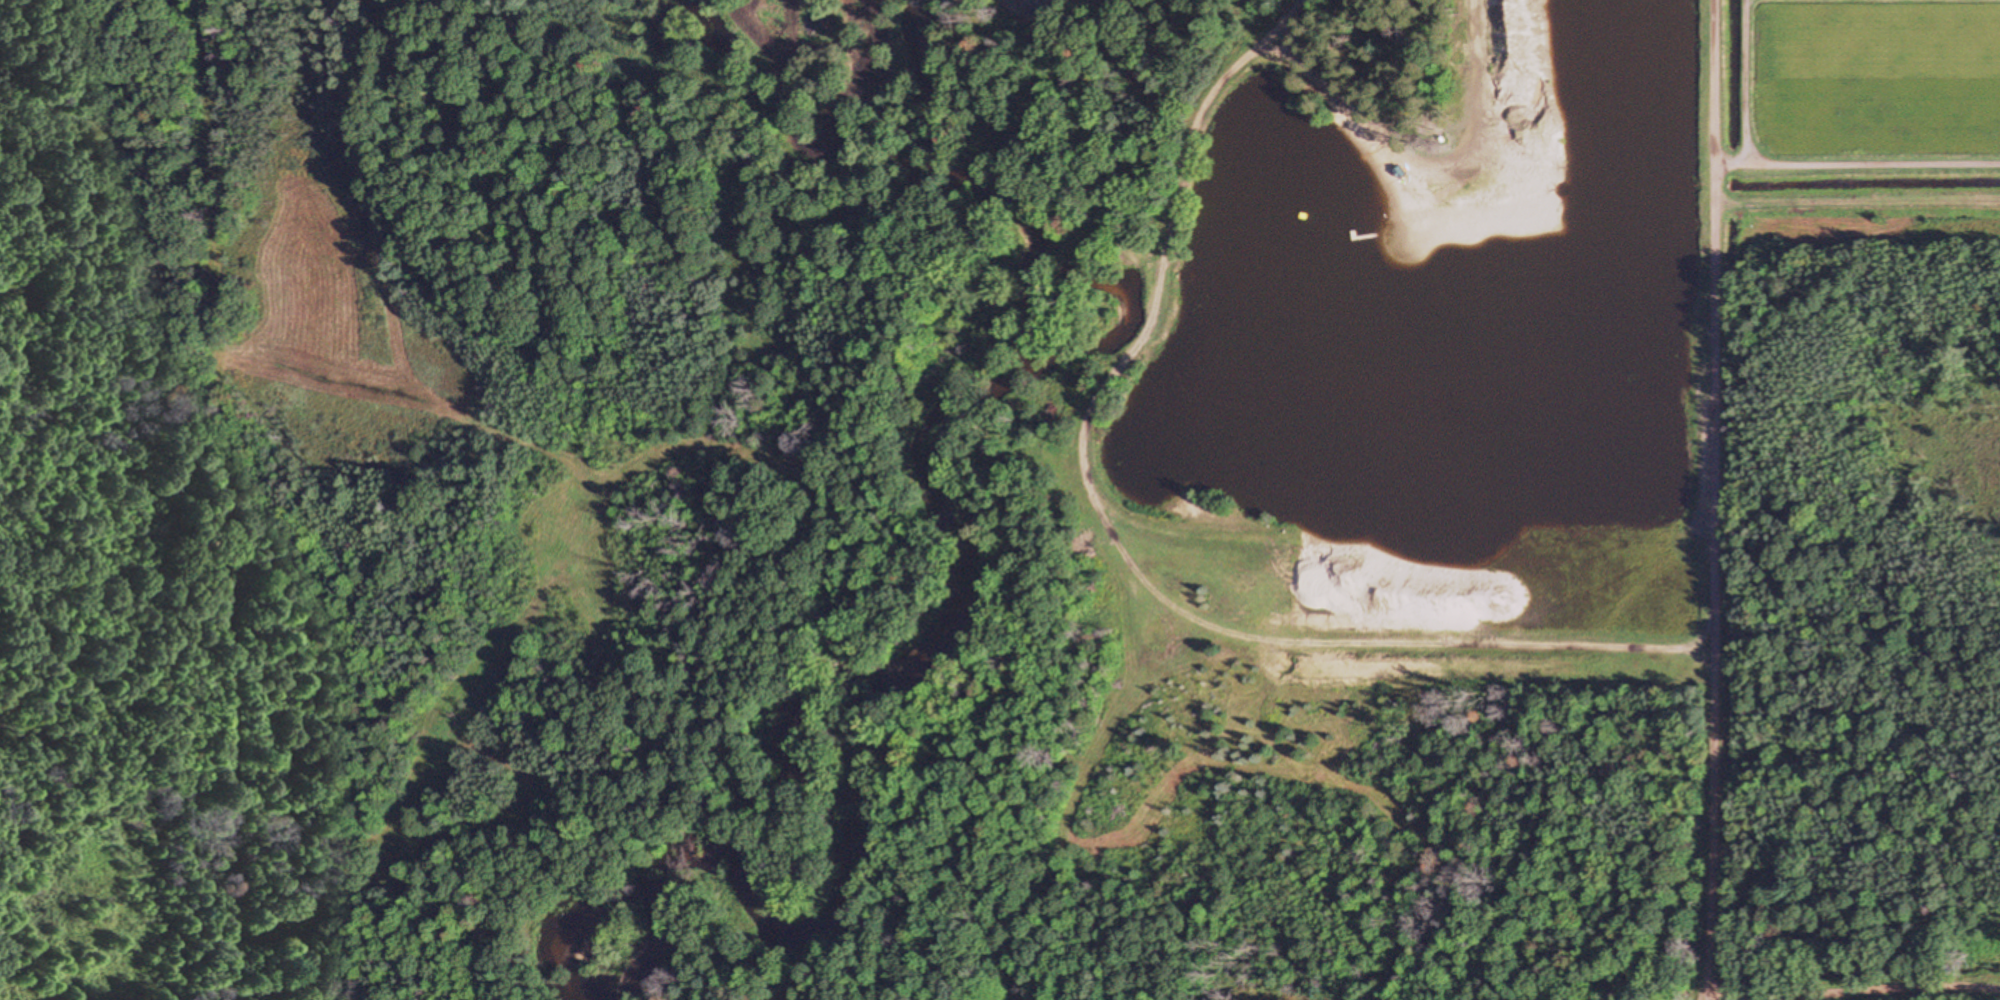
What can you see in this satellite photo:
crop: (1856, 103)

